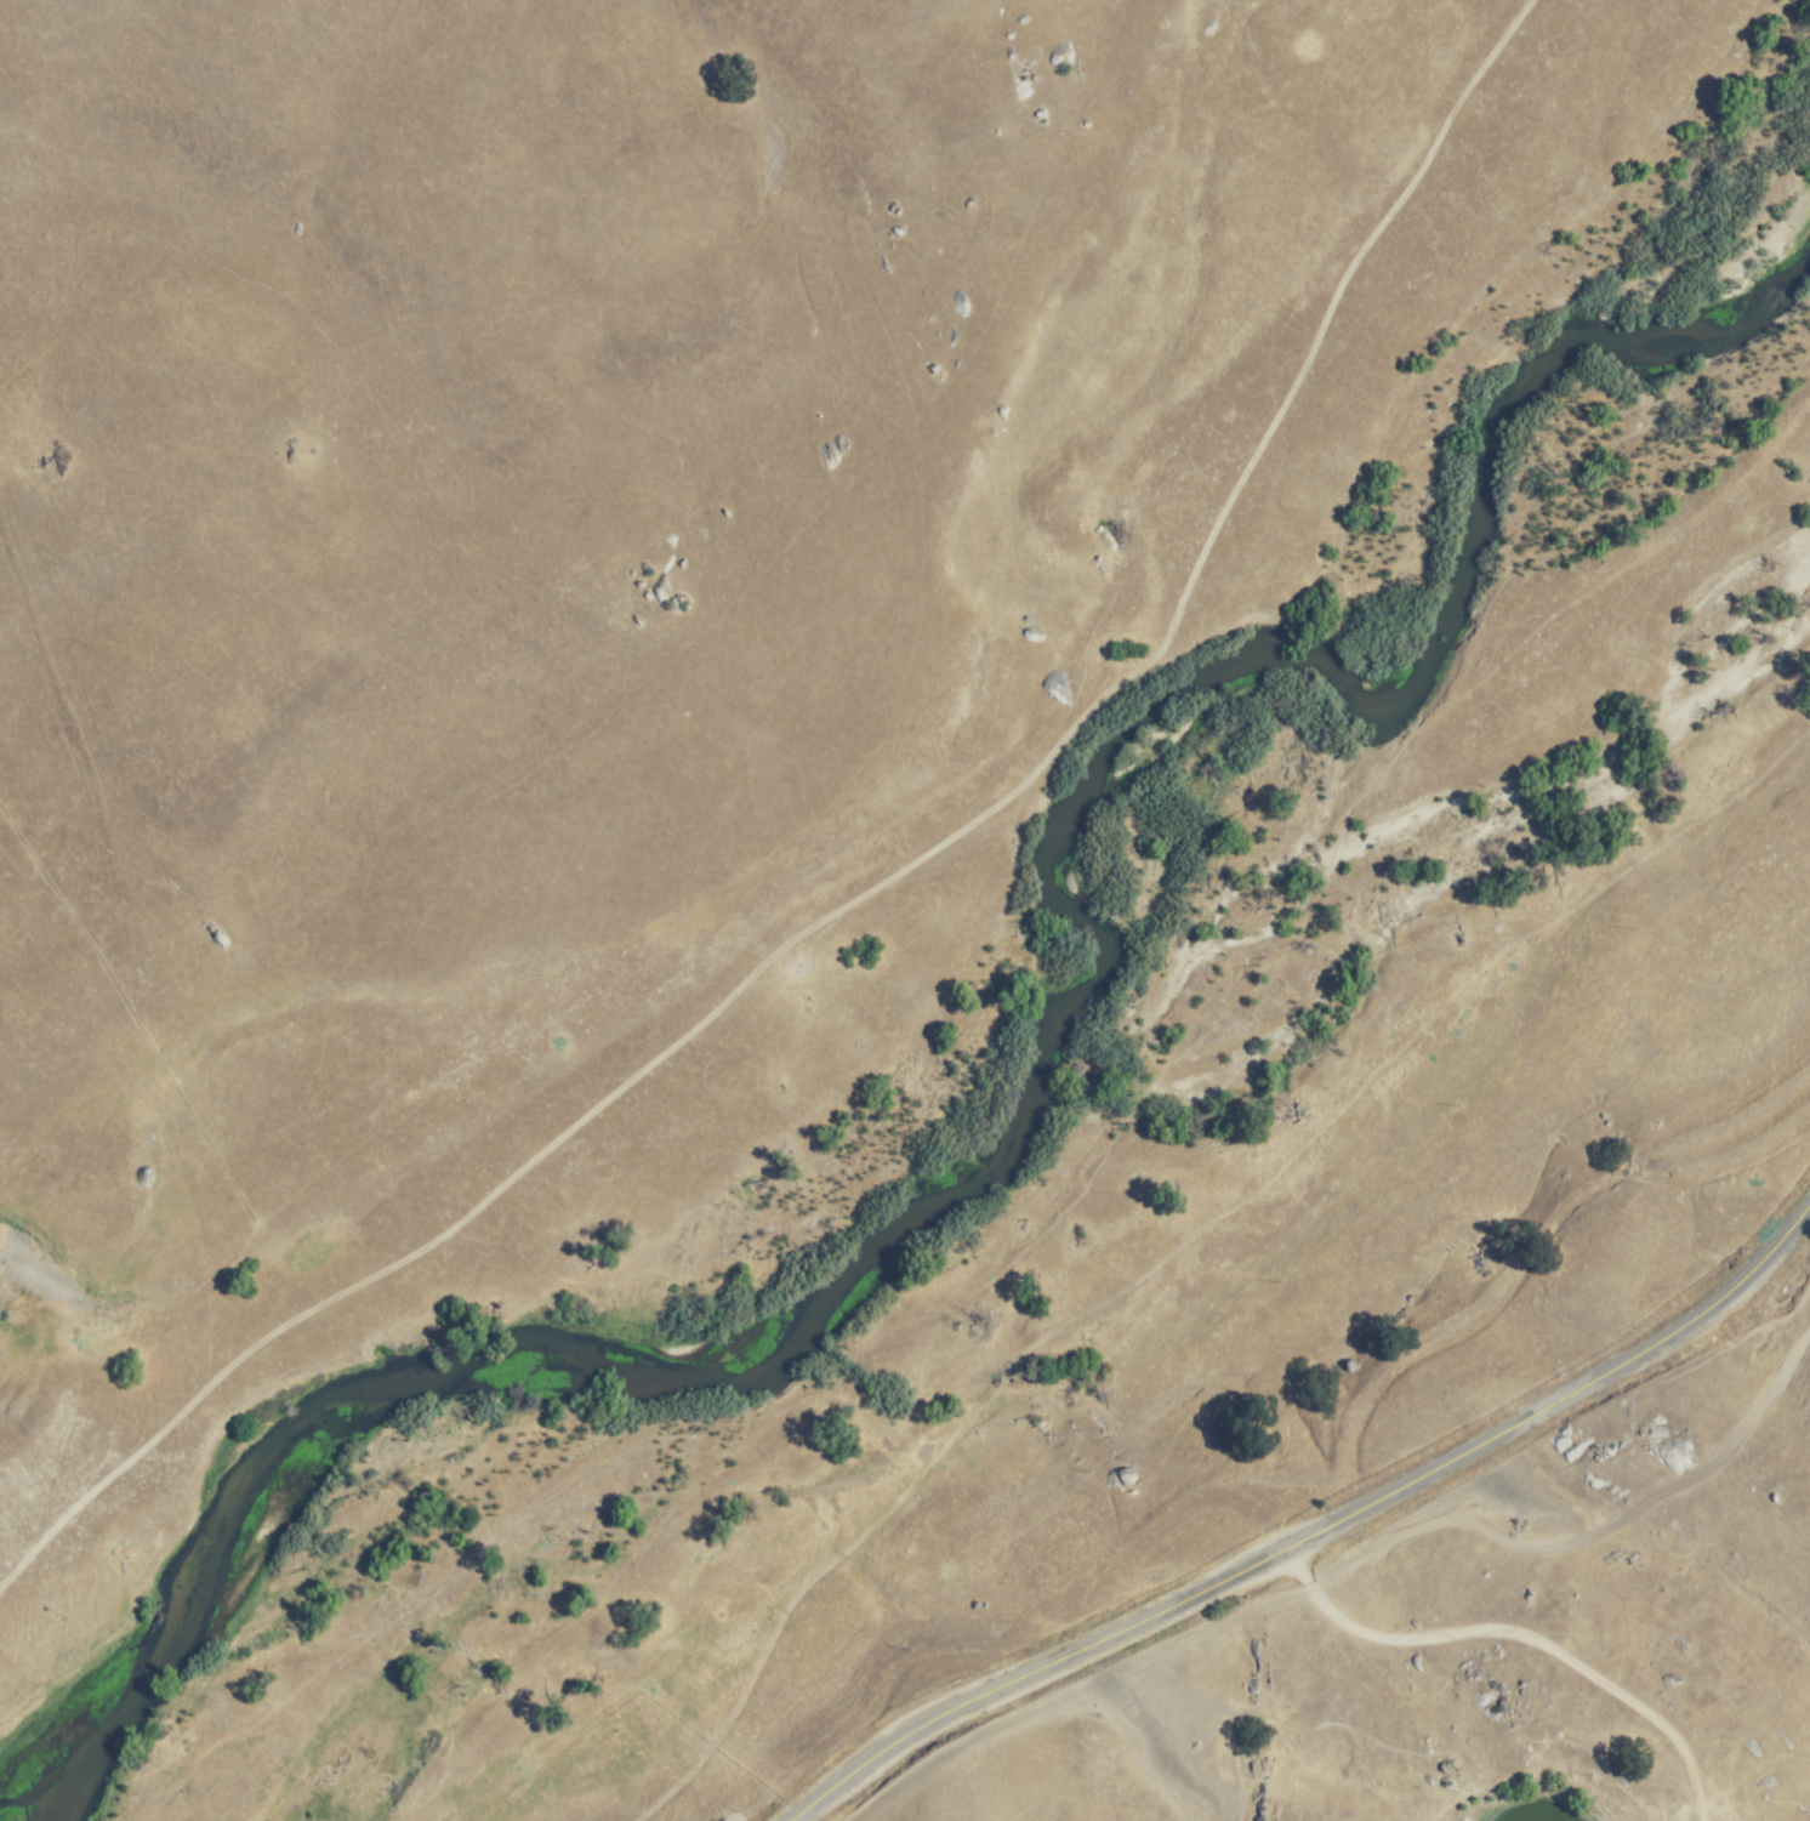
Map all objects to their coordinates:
river: (1025, 1110)
road: (1561, 1390)
road: (1029, 1672)
road: (1438, 1714)

